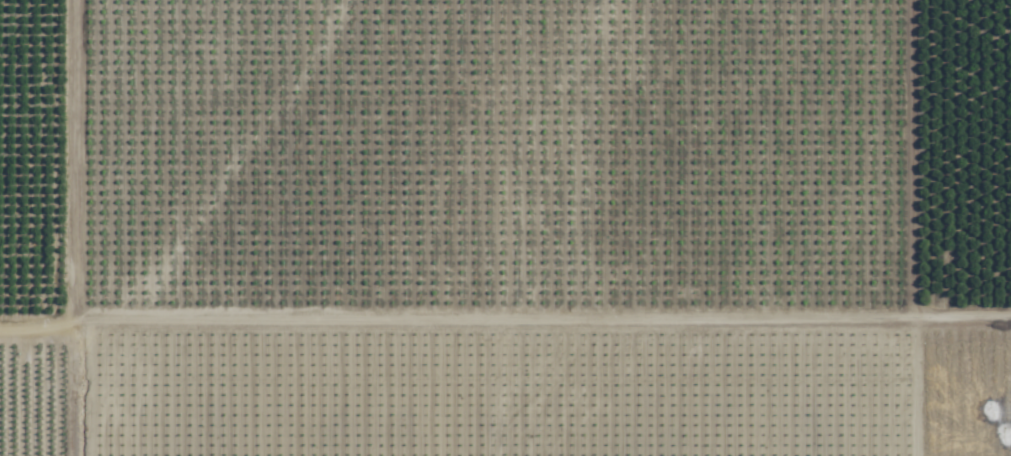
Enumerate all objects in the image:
road: (81, 227)
crop: (505, 228)
road: (504, 318)

